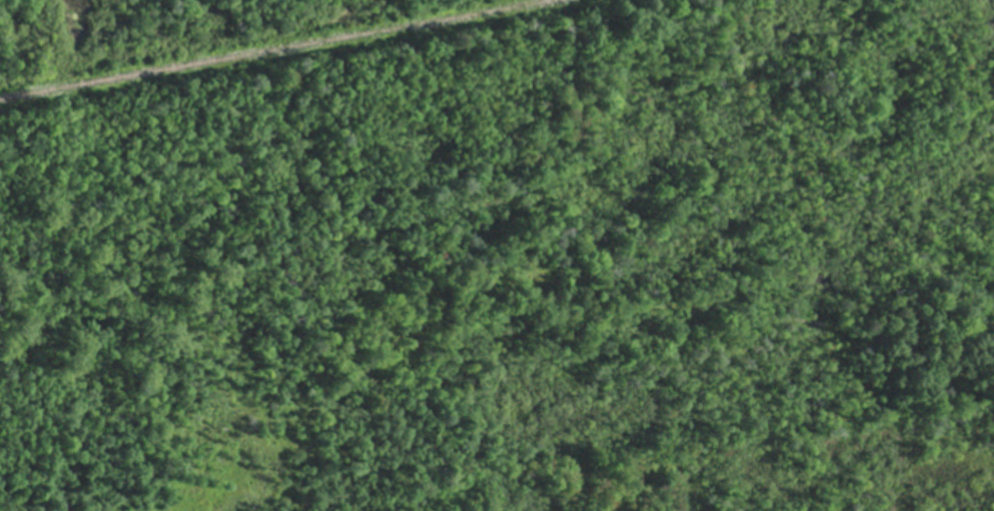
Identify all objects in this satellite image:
railway: (275, 48)

